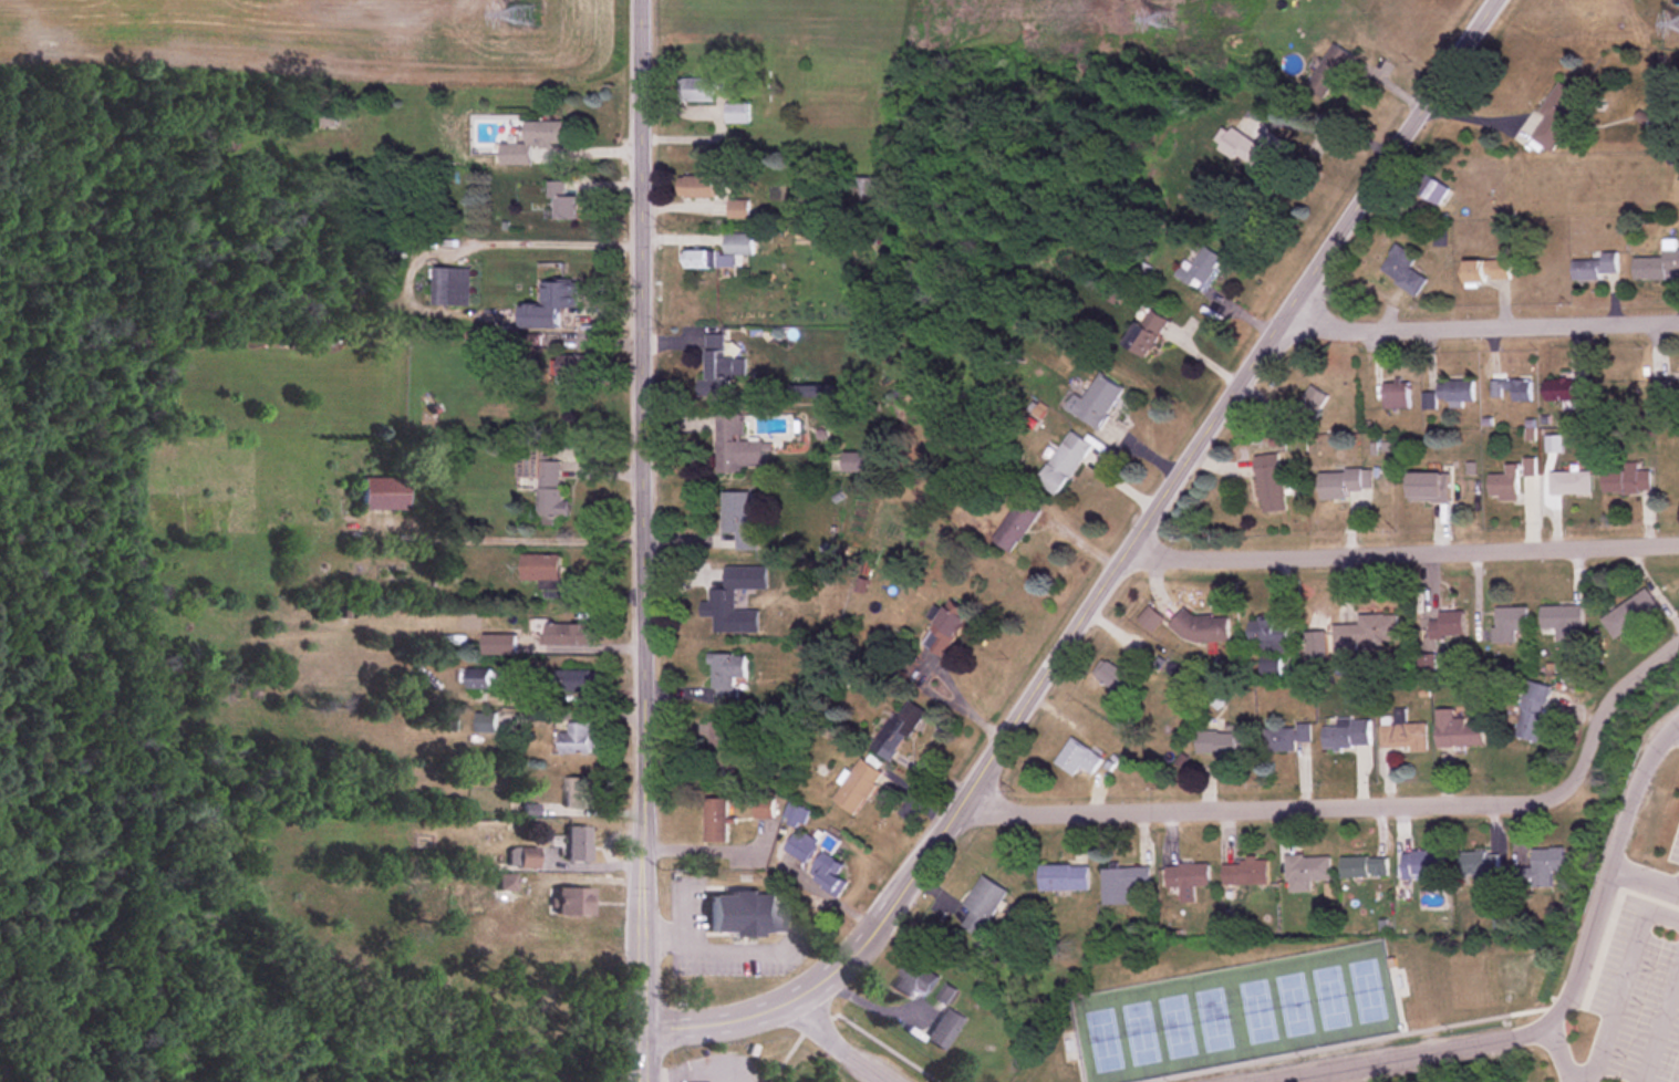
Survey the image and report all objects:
power tower: (528, 14)
power tower: (1167, 19)
building: (1329, 71)
building: (695, 90)
building: (736, 113)
building: (1556, 116)
building: (327, 117)
building: (532, 141)
building: (1254, 150)
building: (698, 186)
building: (1433, 189)
building: (863, 191)
building: (559, 201)
building: (738, 208)
road: (474, 242)
building: (738, 243)
building: (701, 259)
building: (1596, 266)
building: (1200, 269)
building: (1486, 269)
building: (1402, 270)
building: (450, 287)
building: (549, 305)
road: (1478, 327)
building: (1146, 332)
building: (576, 366)
building: (719, 367)
building: (1569, 388)
building: (1511, 389)
building: (1665, 391)
building: (1449, 393)
building: (1396, 395)
building: (1095, 400)
building: (1312, 403)
building: (737, 447)
building: (854, 462)
building: (1064, 462)
building: (1670, 479)
building: (1626, 480)
building: (540, 481)
building: (1569, 482)
building: (1269, 483)
building: (1343, 483)
building: (1503, 485)
building: (1428, 487)
building: (381, 493)
building: (737, 514)
building: (1015, 526)
road: (642, 541)
road: (1401, 552)
building: (539, 568)
road: (1111, 573)
building: (1630, 612)
building: (1562, 617)
building: (1152, 621)
building: (1509, 623)
building: (1447, 625)
building: (1202, 628)
building: (945, 630)
building: (1365, 632)
building: (567, 634)
building: (1267, 637)
building: (497, 645)
building: (725, 674)
building: (1112, 677)
building: (476, 678)
building: (574, 680)
road: (1605, 708)
building: (1532, 712)
building: (483, 722)
road: (1676, 728)
building: (898, 730)
building: (1455, 730)
building: (1345, 734)
building: (1402, 736)
building: (1284, 737)
building: (576, 739)
building: (1222, 745)
building: (722, 747)
building: (1077, 758)
building: (857, 786)
building: (576, 792)
road: (1261, 808)
building: (715, 820)
building: (577, 844)
building: (800, 846)
building: (1421, 864)
building: (1479, 865)
building: (1362, 866)
building: (1542, 867)
building: (1305, 872)
building: (1244, 873)
building: (829, 874)
building: (1063, 877)
building: (1186, 880)
road: (1644, 883)
building: (1121, 884)
building: (573, 903)
building: (982, 905)
building: (743, 914)
road: (1660, 914)
building: (914, 979)
road: (1615, 995)
road: (1565, 998)
road: (1659, 1026)
building: (944, 1029)
road: (841, 1044)
road: (1552, 1055)

